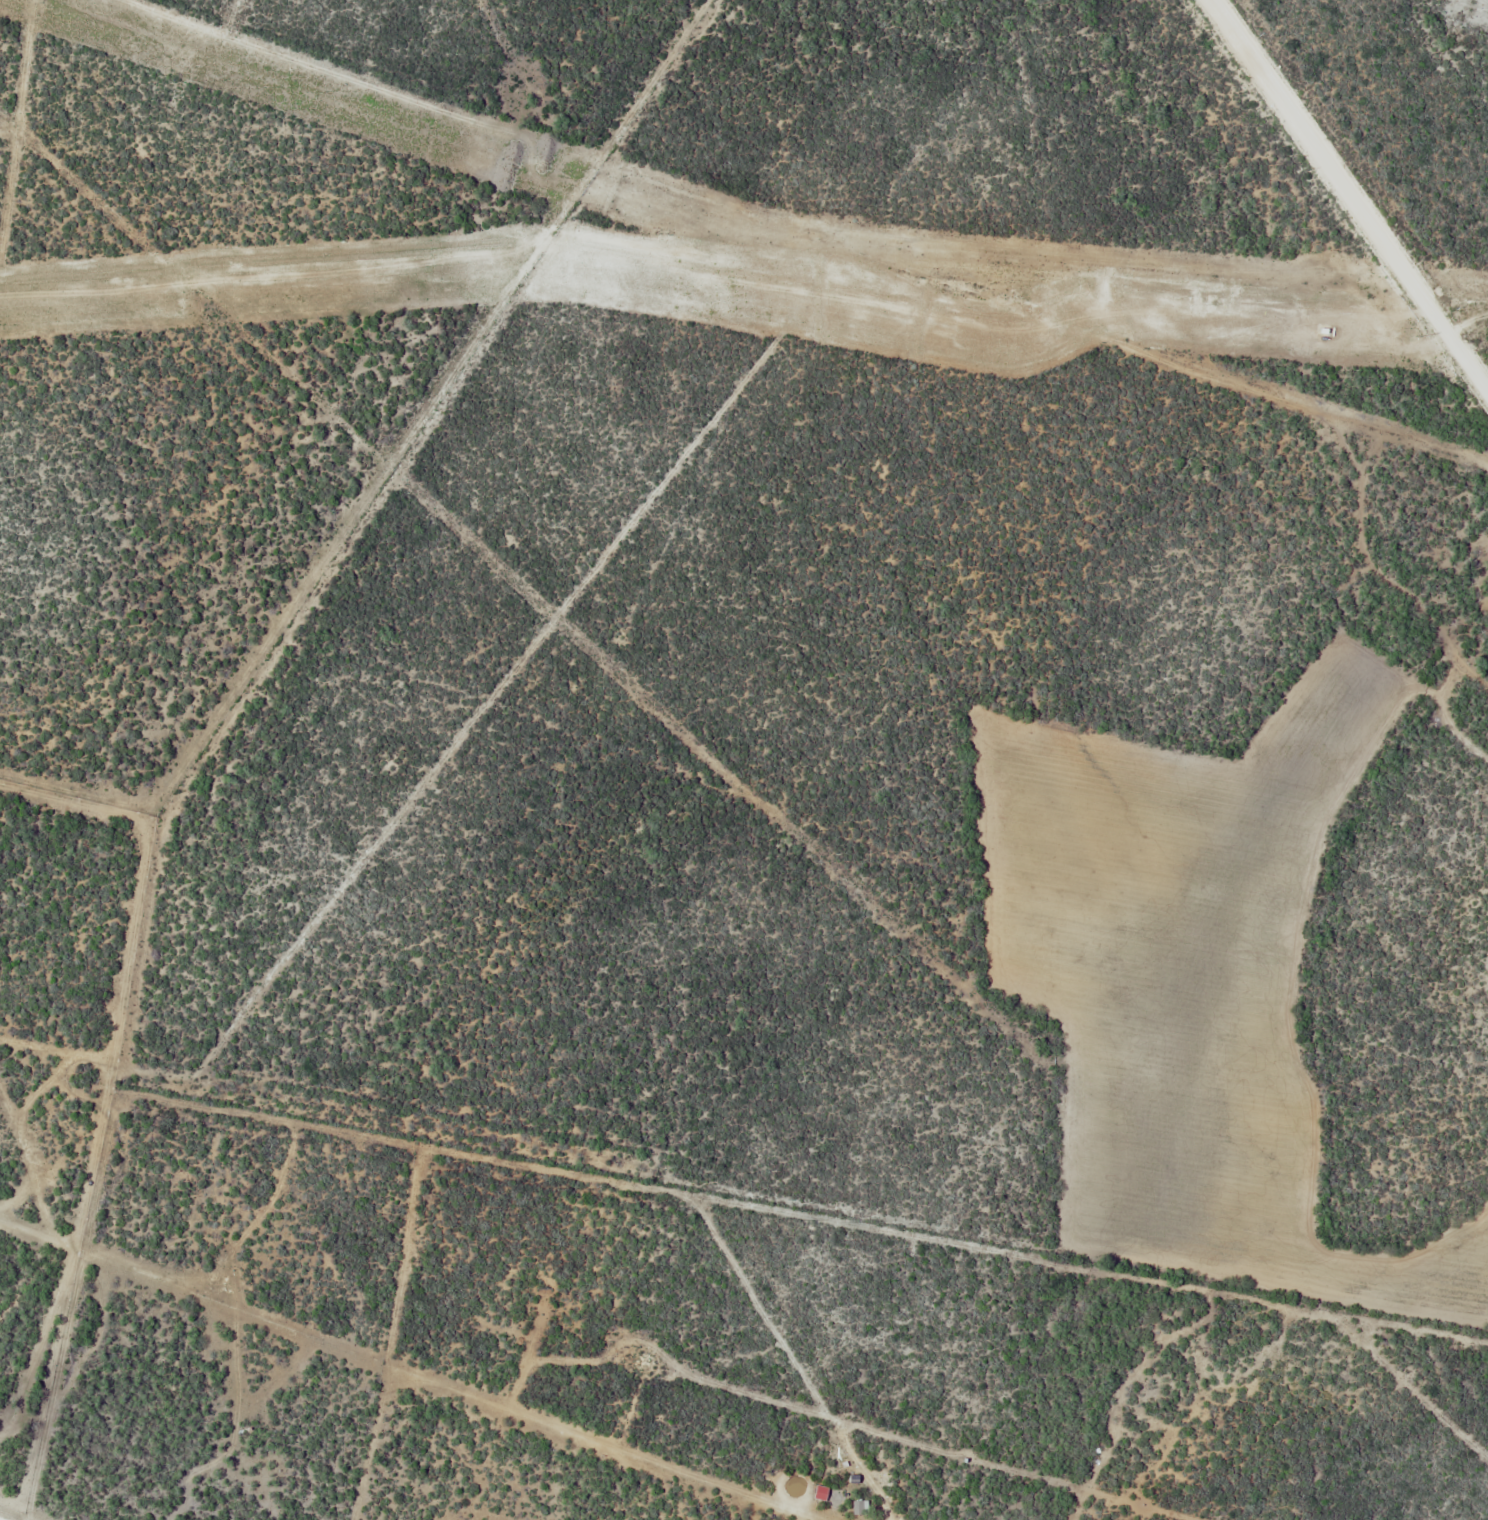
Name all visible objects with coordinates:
road: (1348, 196)

